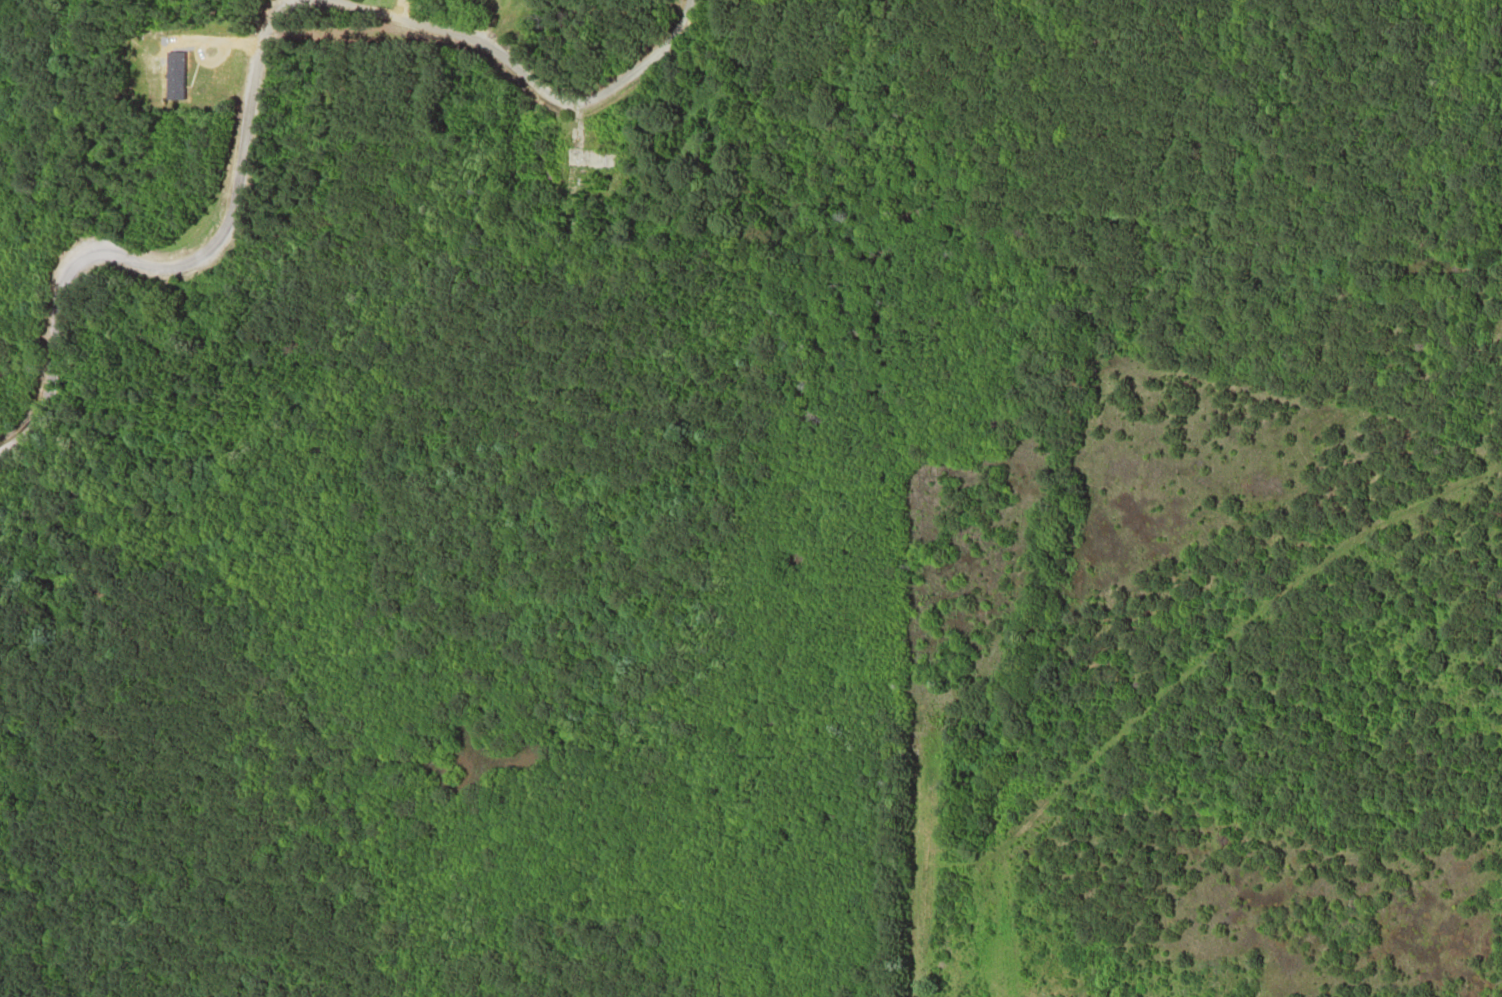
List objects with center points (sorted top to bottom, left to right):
road: (519, 73)
building: (587, 164)
road: (171, 266)

